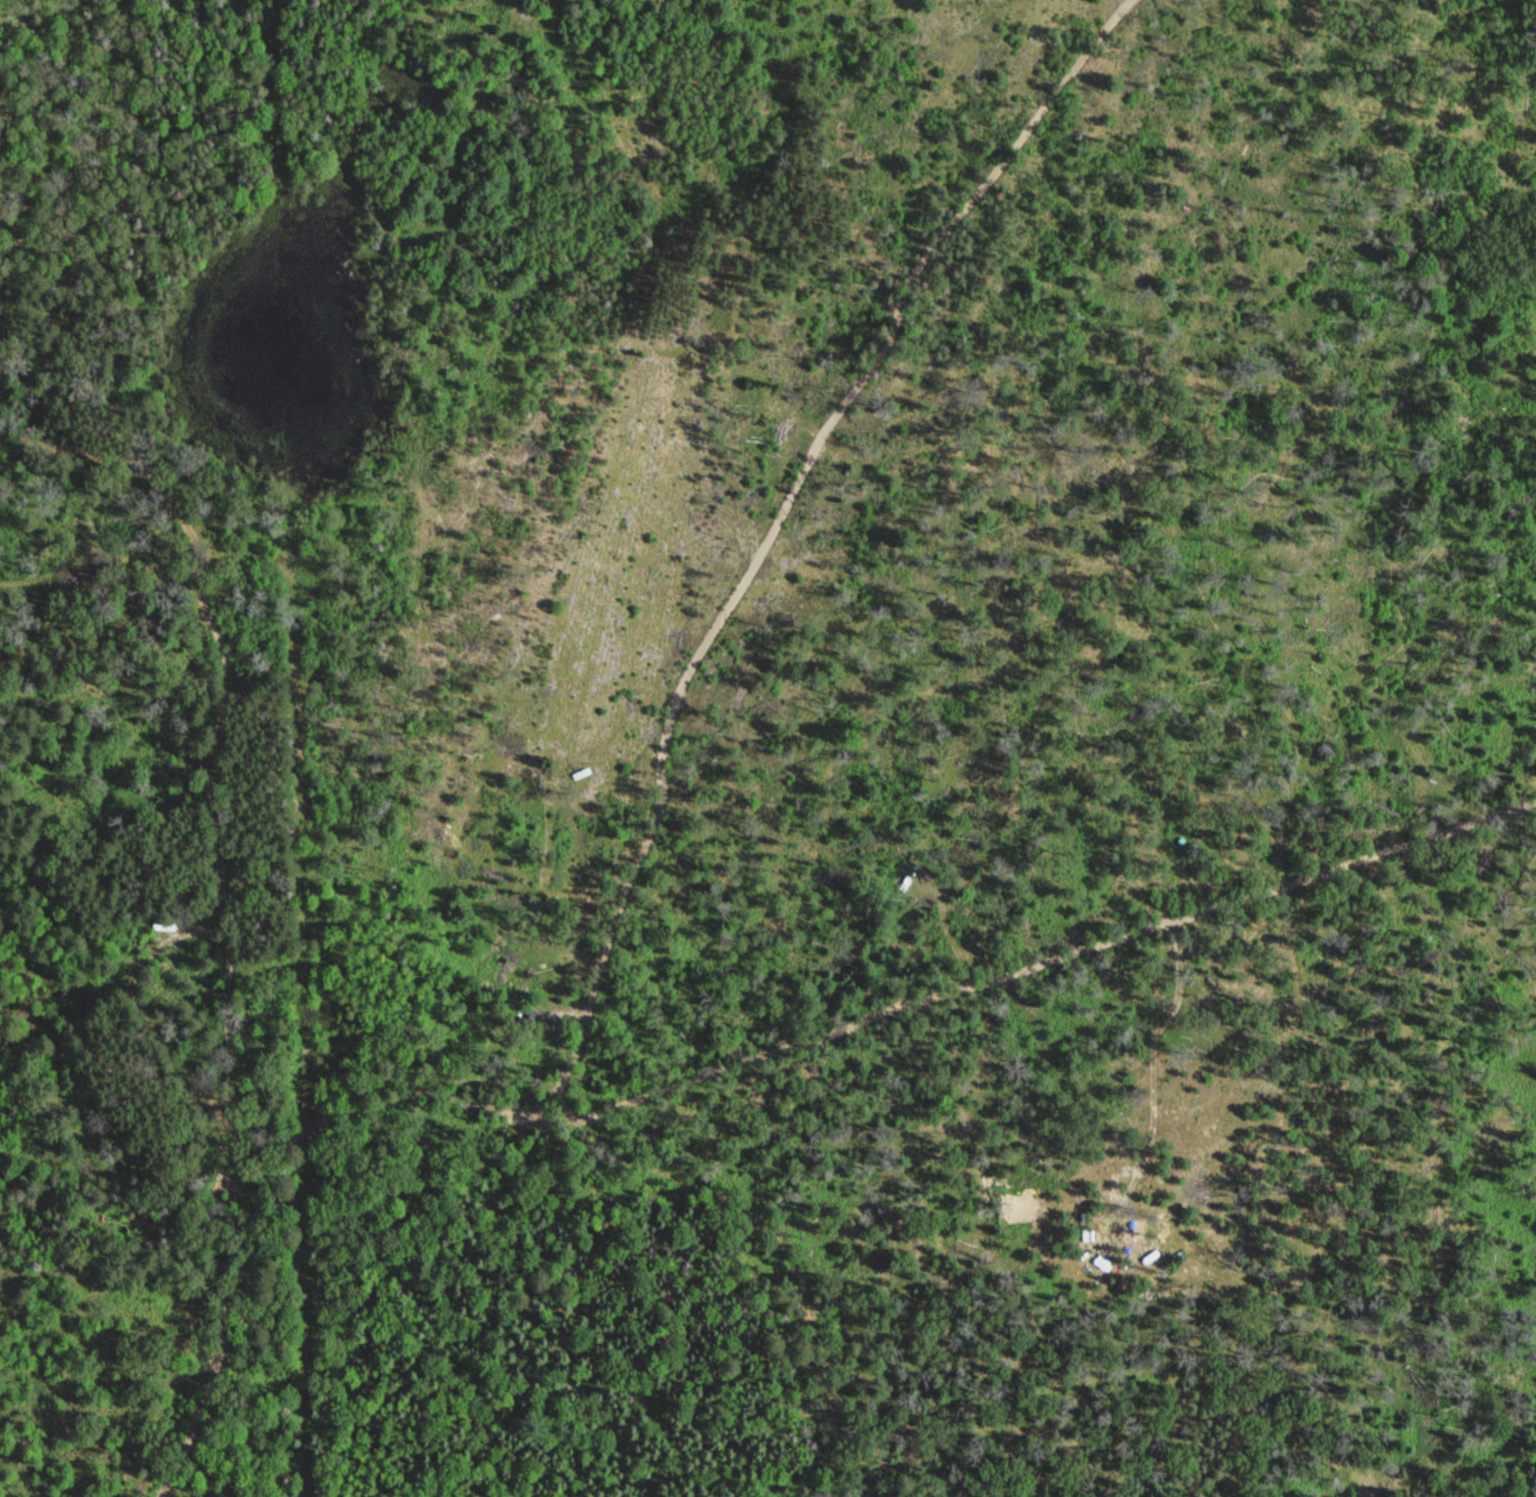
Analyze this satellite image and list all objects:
road: (773, 531)
road: (1100, 946)
road: (439, 1101)
road: (226, 1348)

